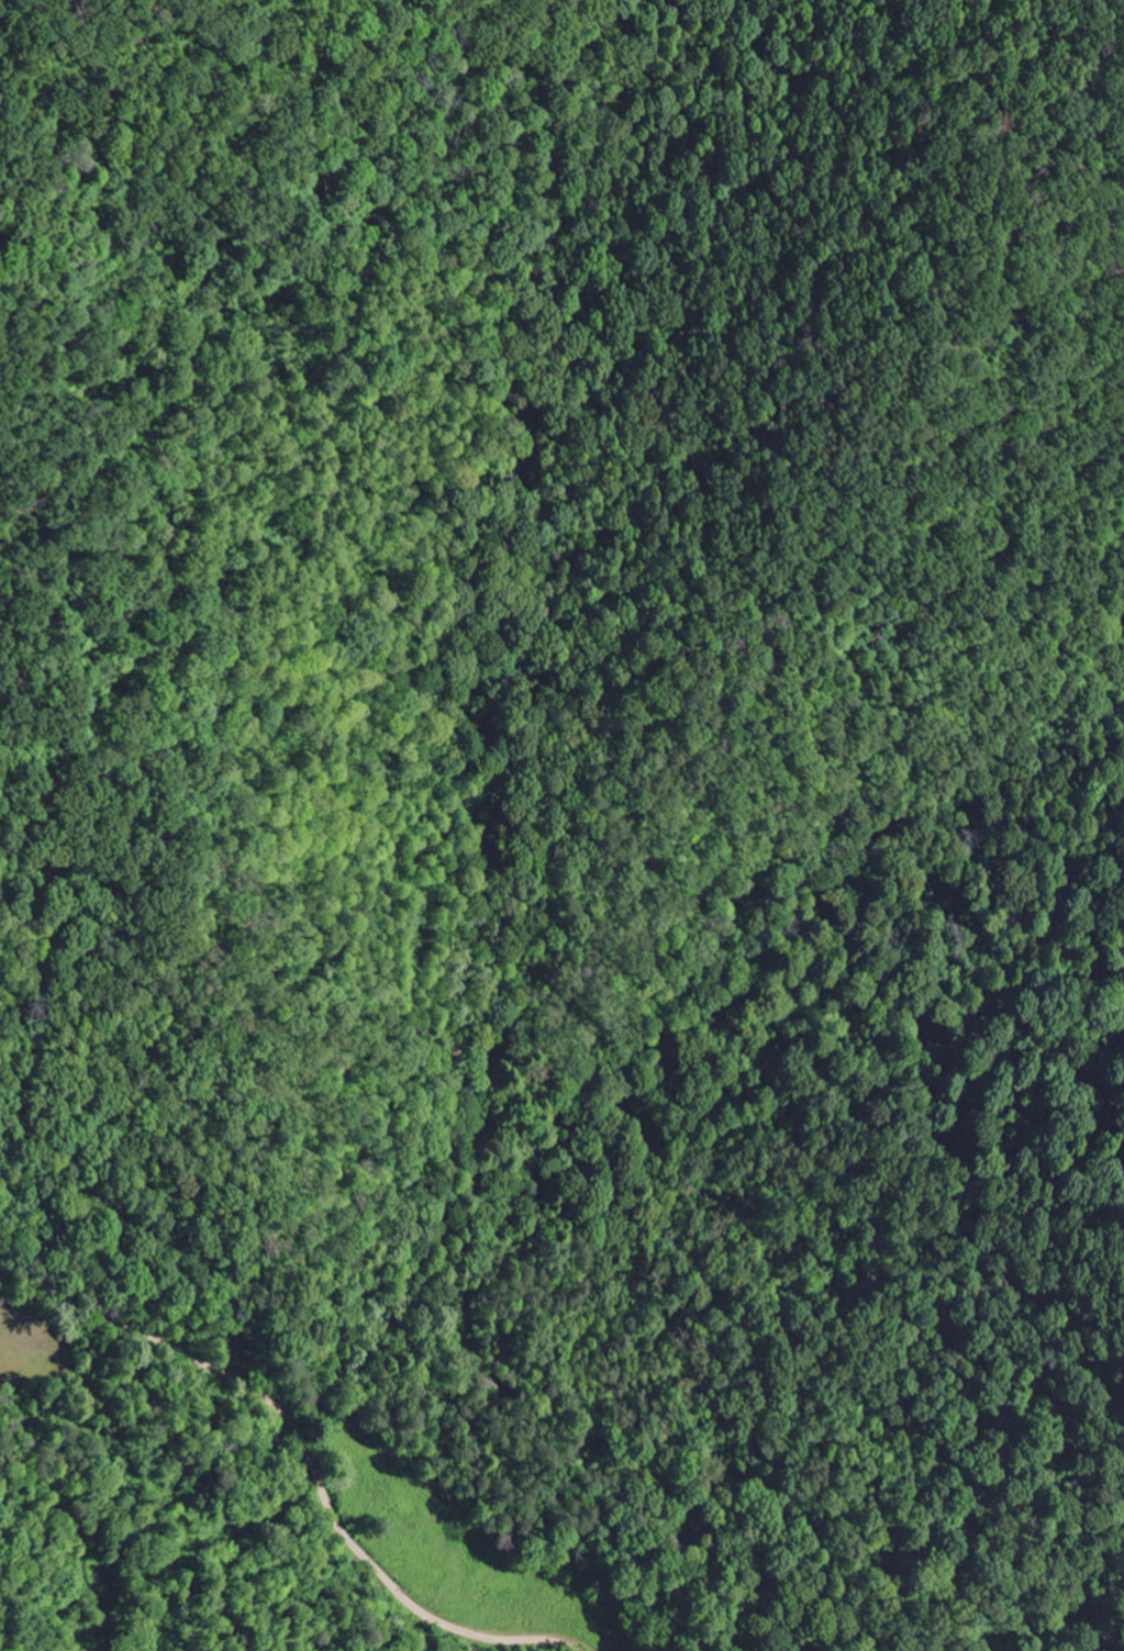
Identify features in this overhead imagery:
road: (309, 1441)

